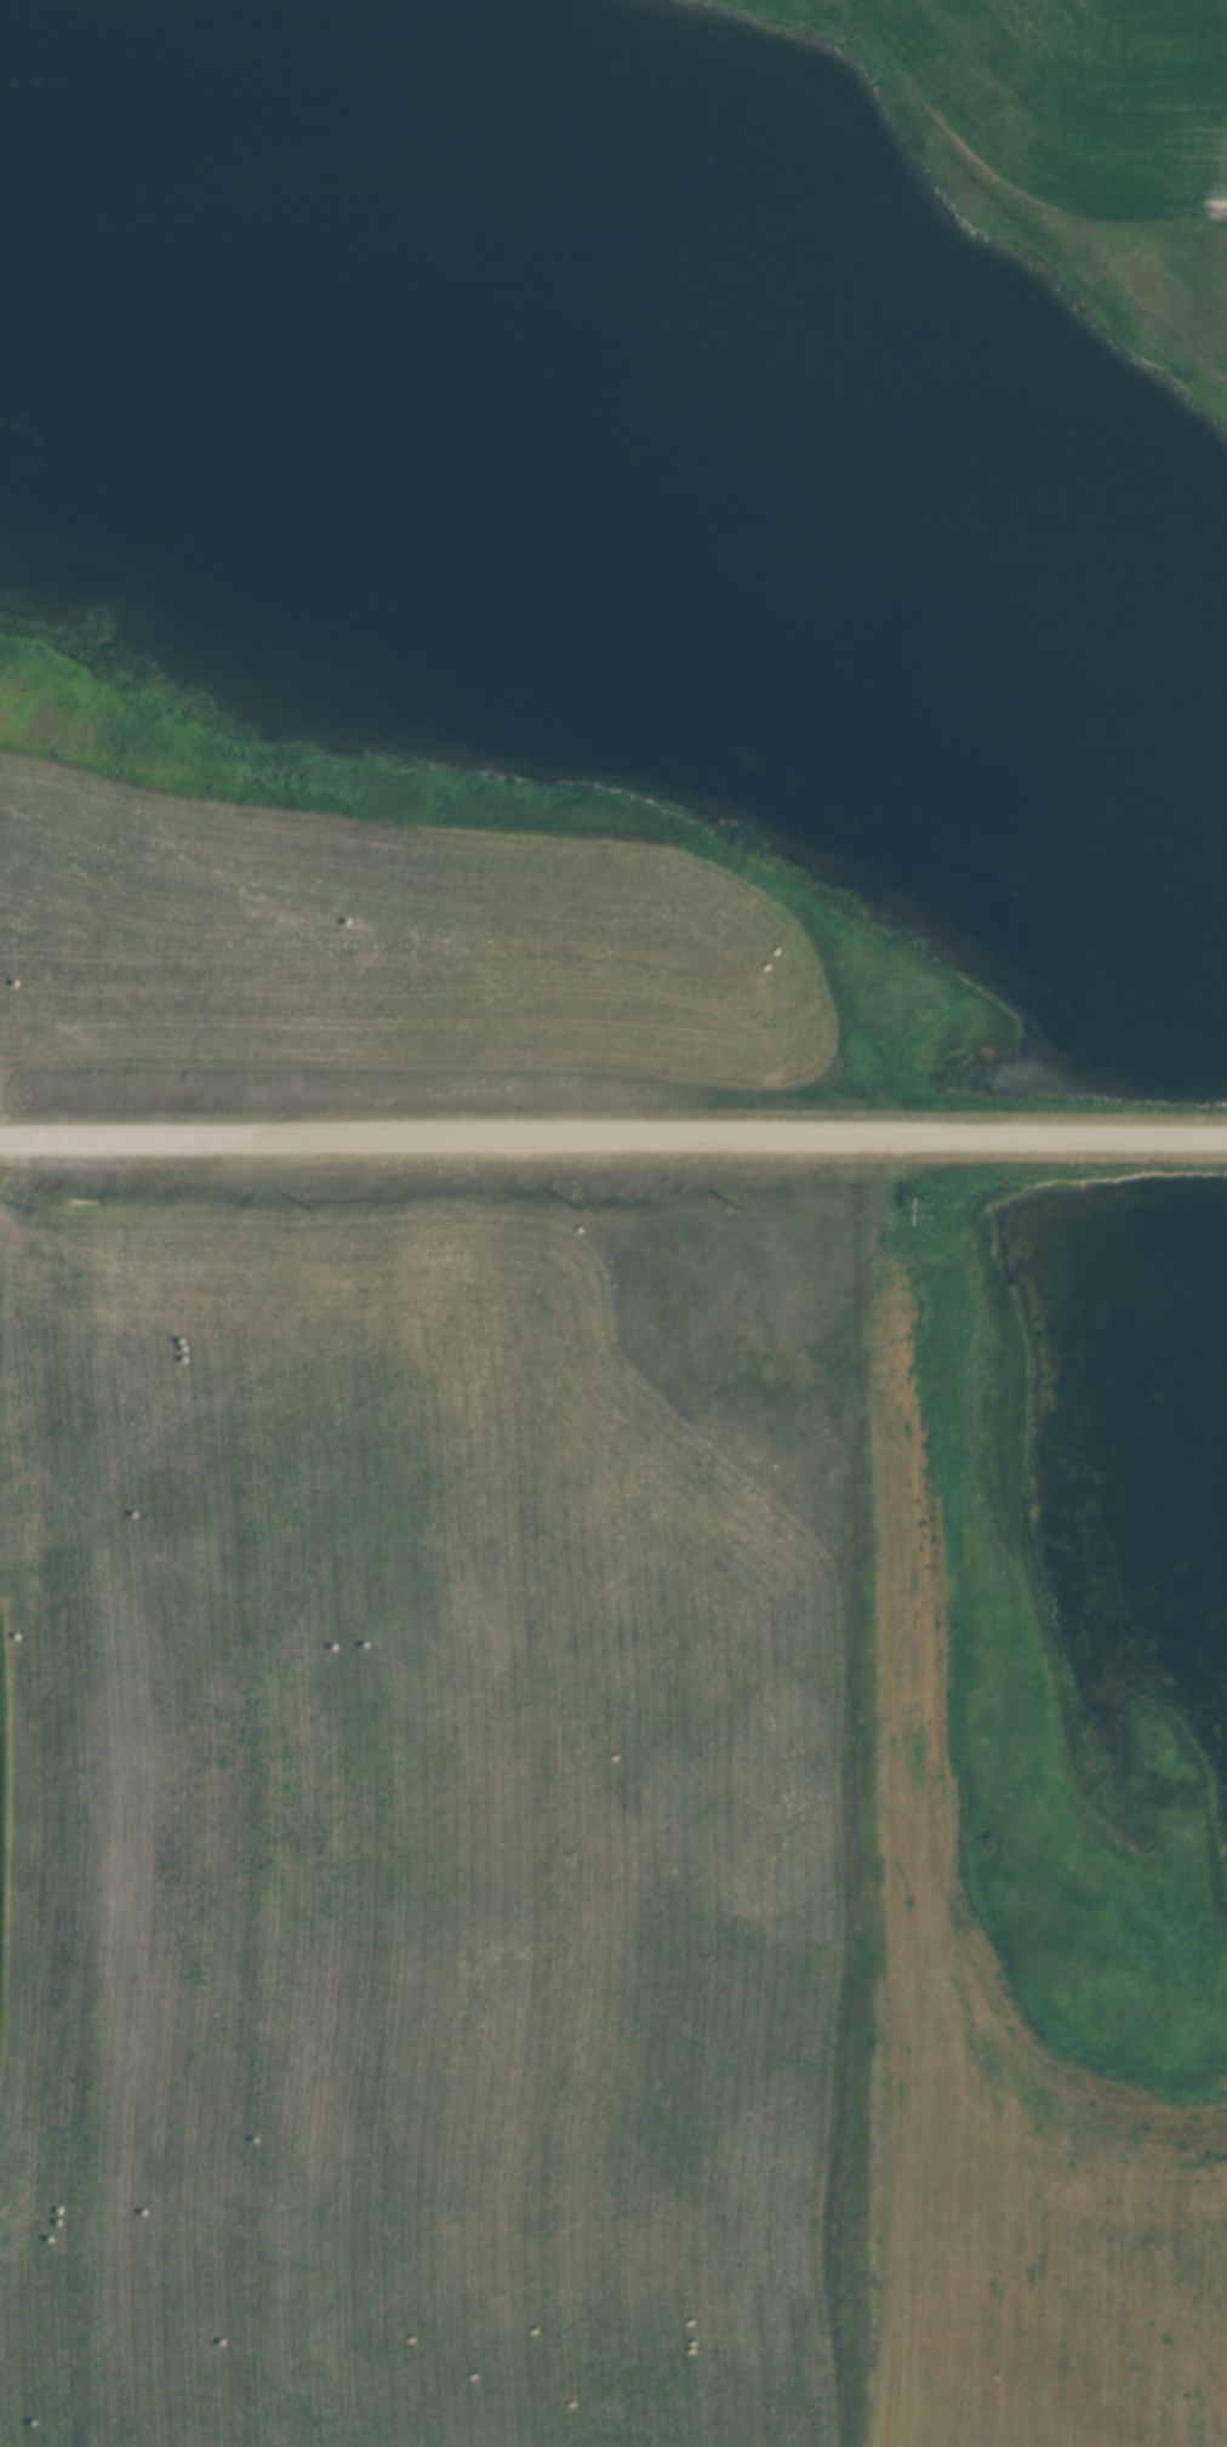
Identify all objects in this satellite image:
road: (613, 1135)

